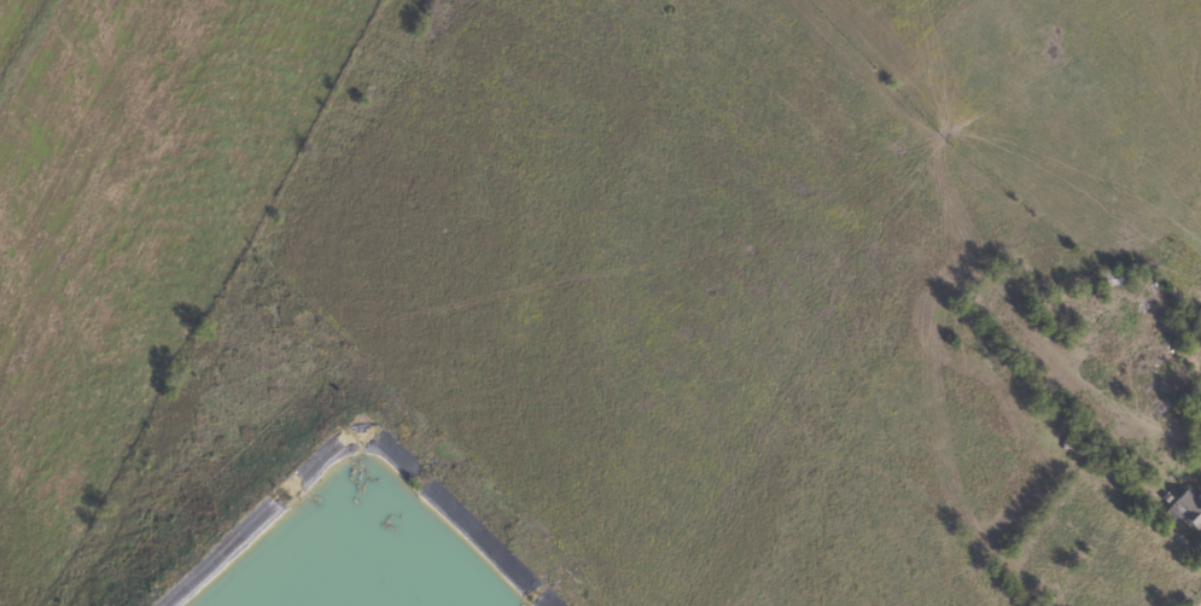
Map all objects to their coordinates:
building: (1107, 279)
building: (1183, 511)

